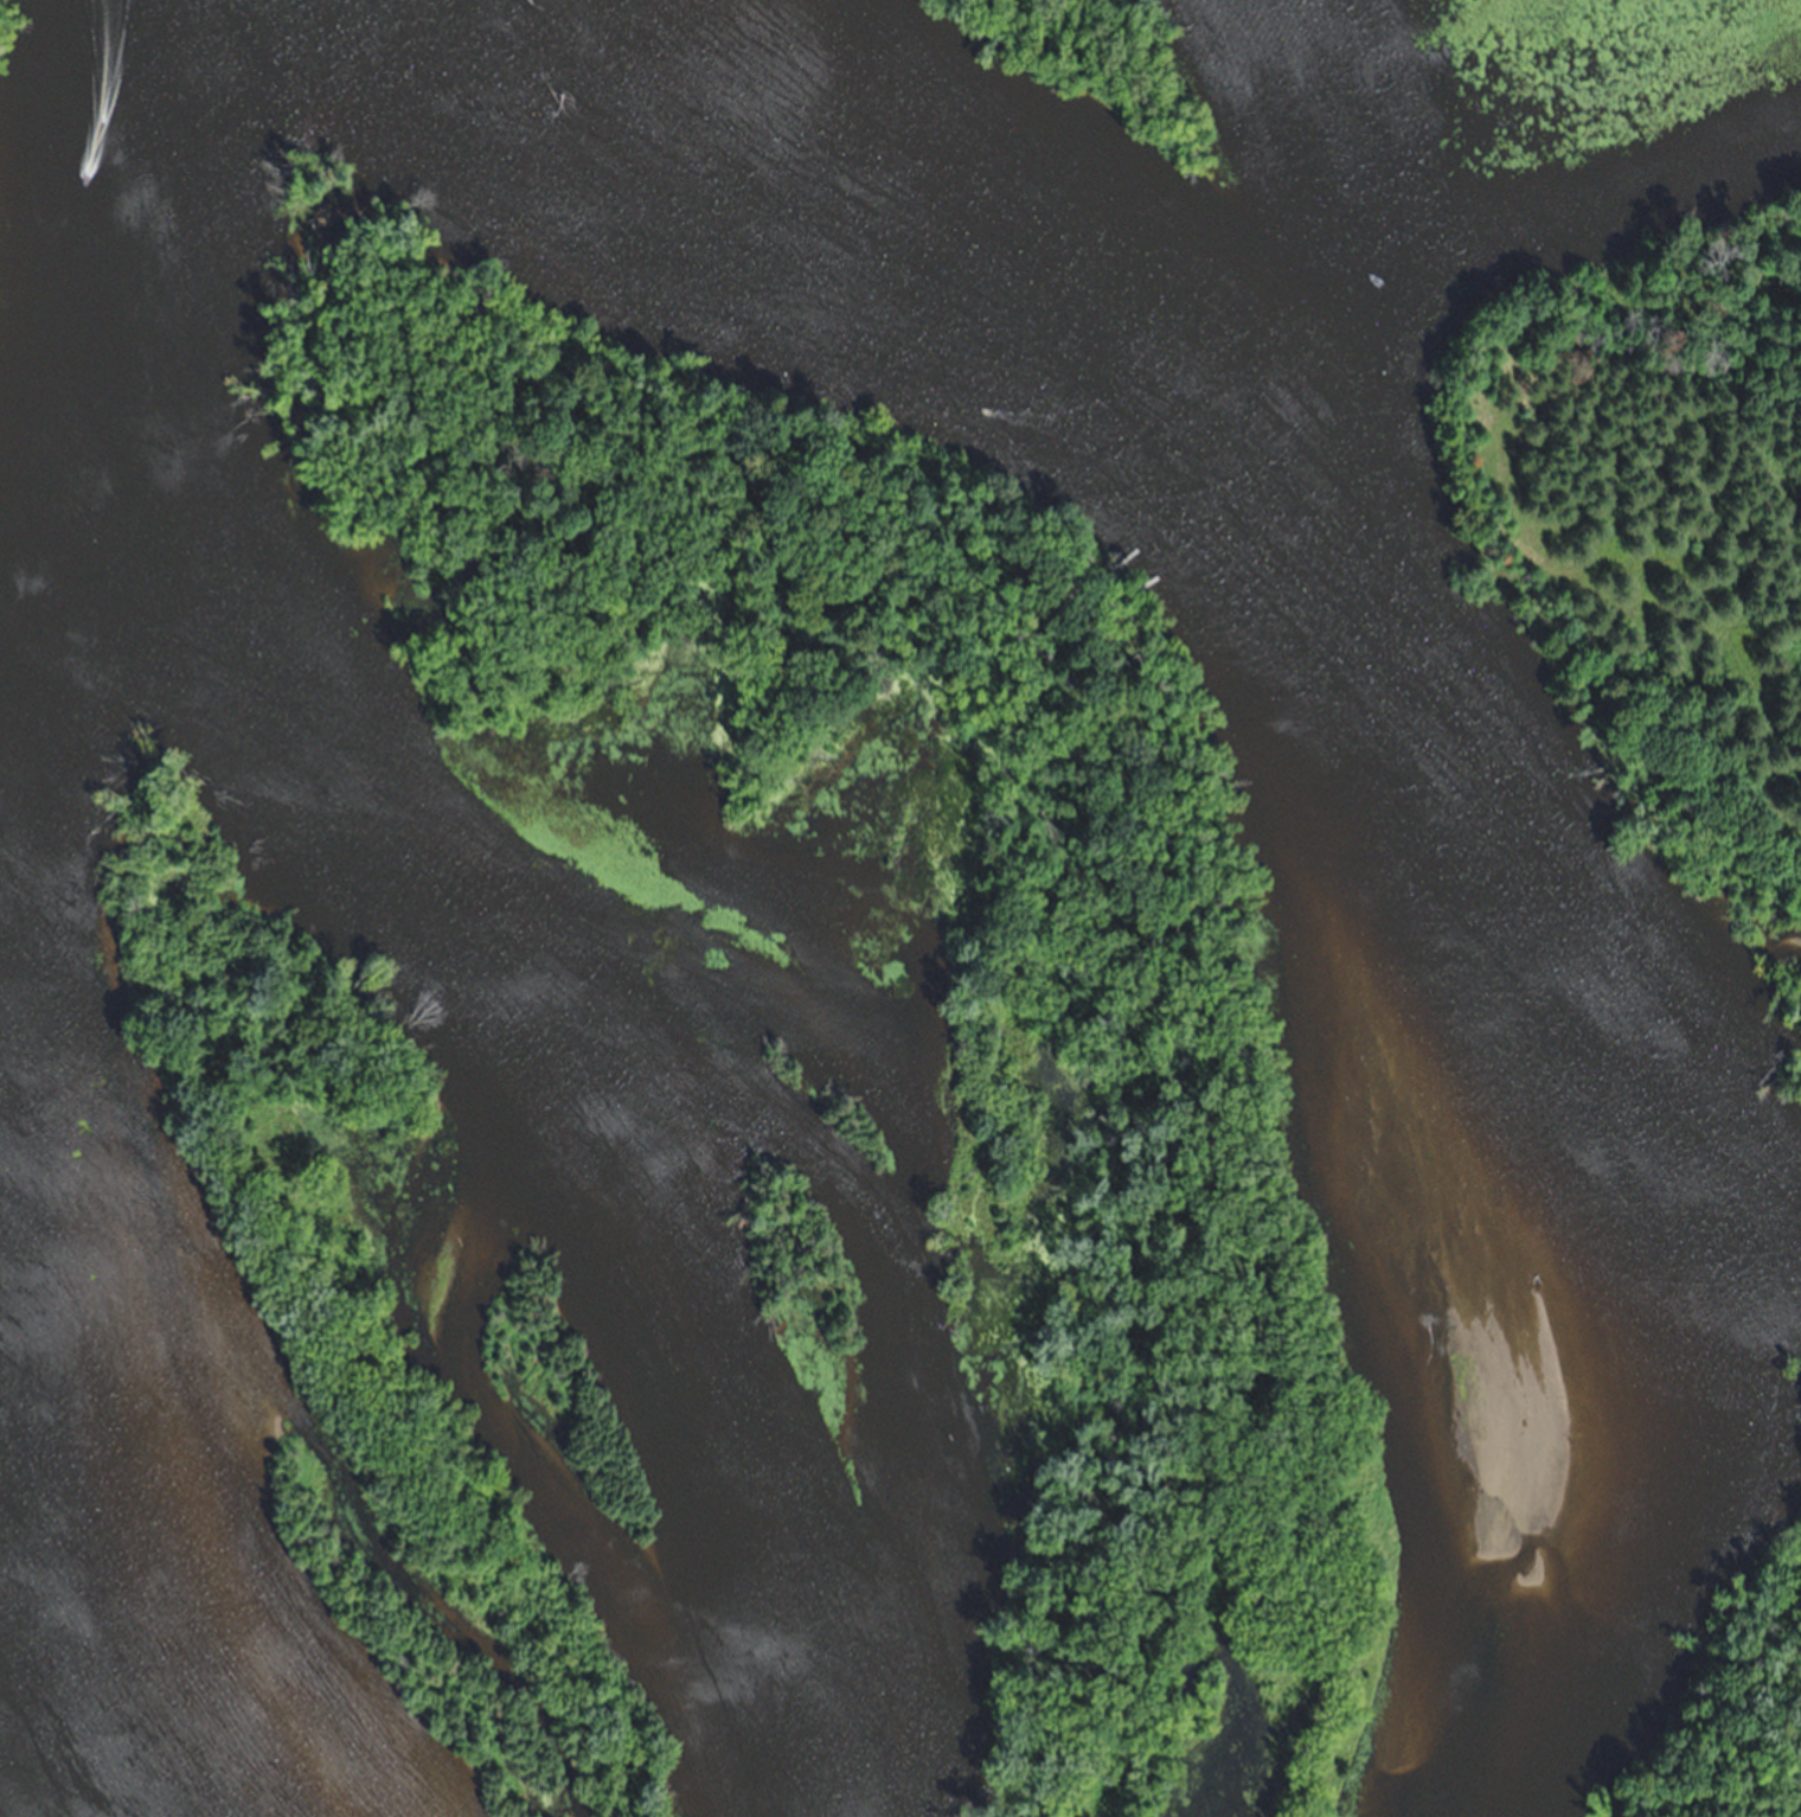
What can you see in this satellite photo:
river: (83, 482)
river: (121, 1517)

